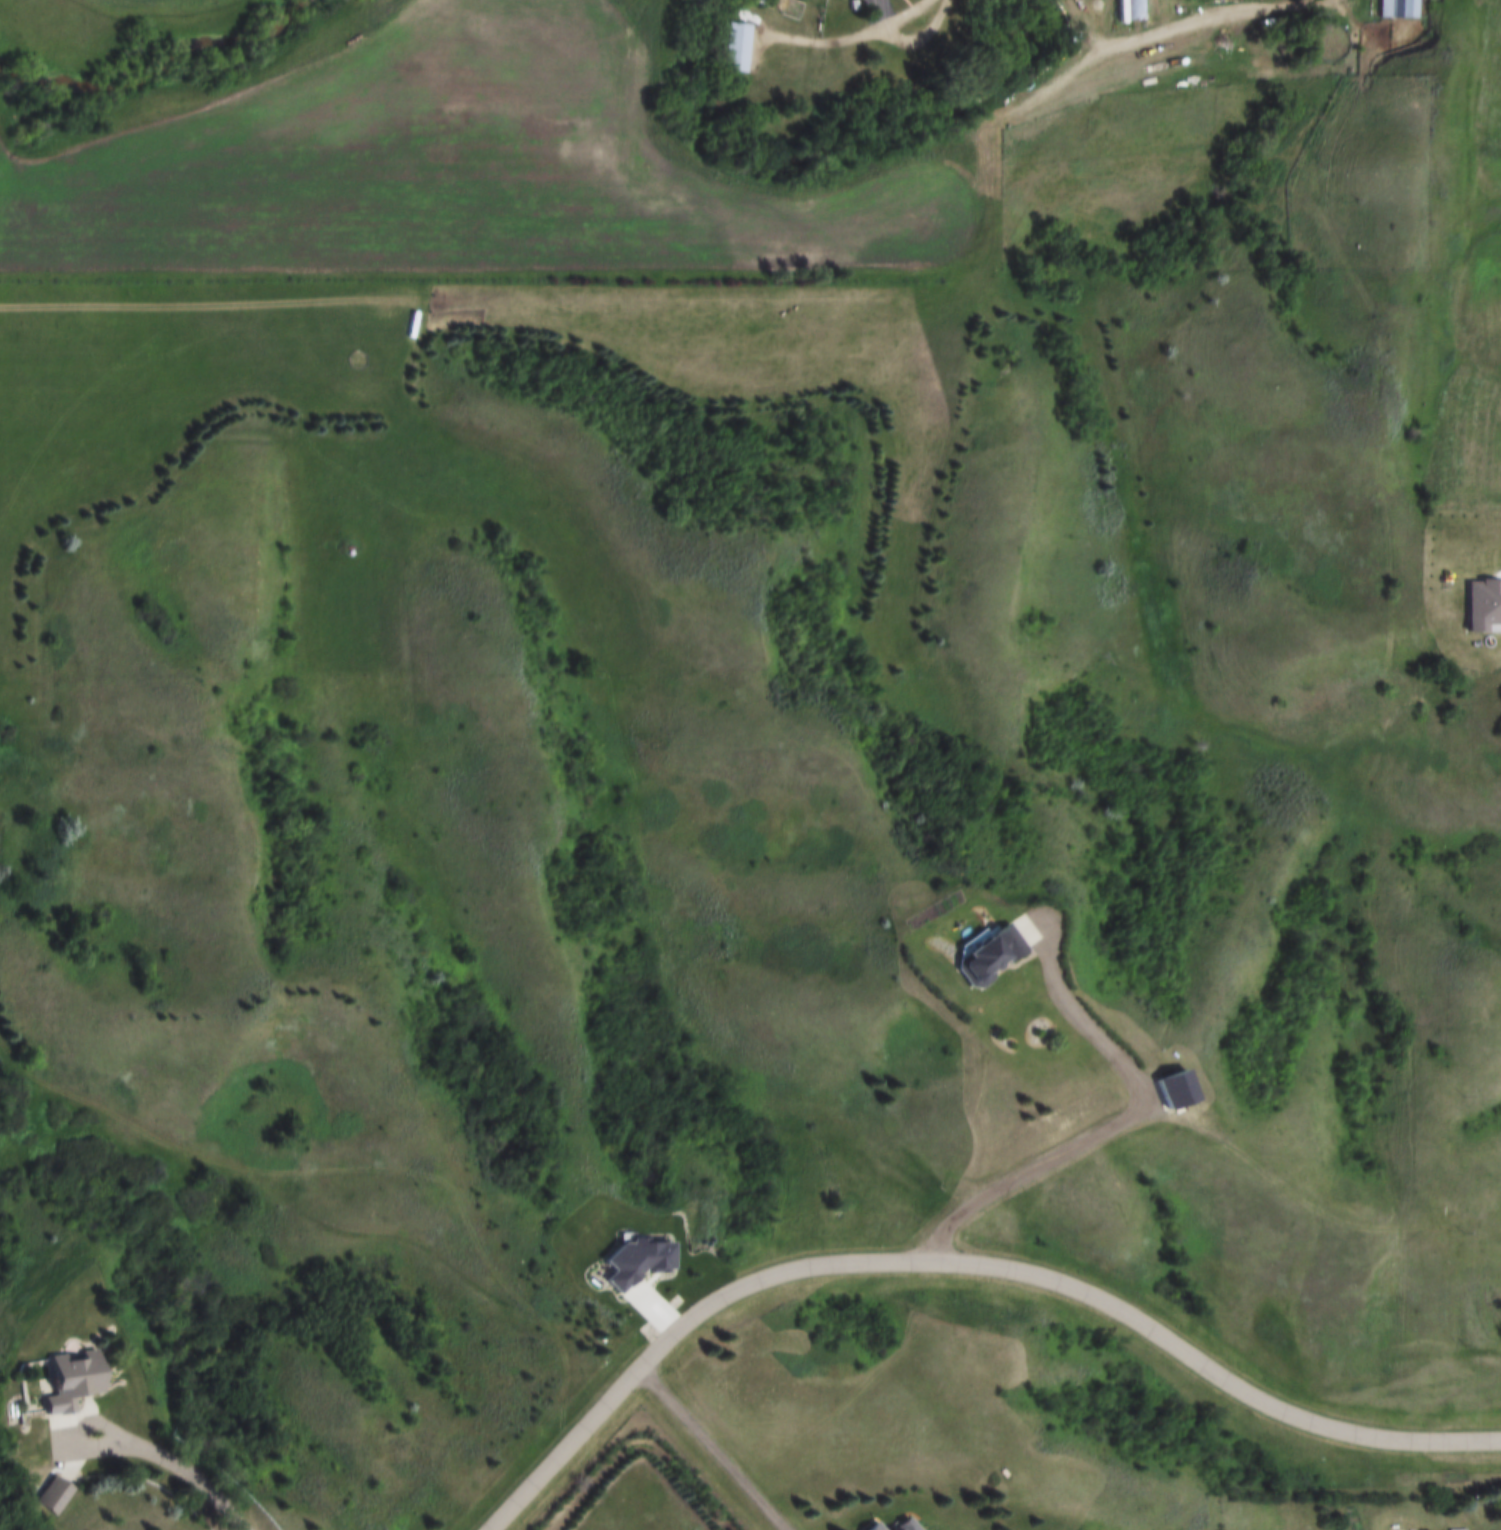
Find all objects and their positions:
road: (927, 2)
building: (1399, 9)
building: (1135, 10)
road: (1169, 24)
building: (845, 42)
building: (736, 48)
building: (1009, 955)
building: (1188, 1093)
road: (1102, 1142)
road: (962, 1264)
building: (71, 1383)
road: (709, 1450)
road: (173, 1457)
building: (52, 1496)
building: (919, 1524)
building: (885, 1526)

